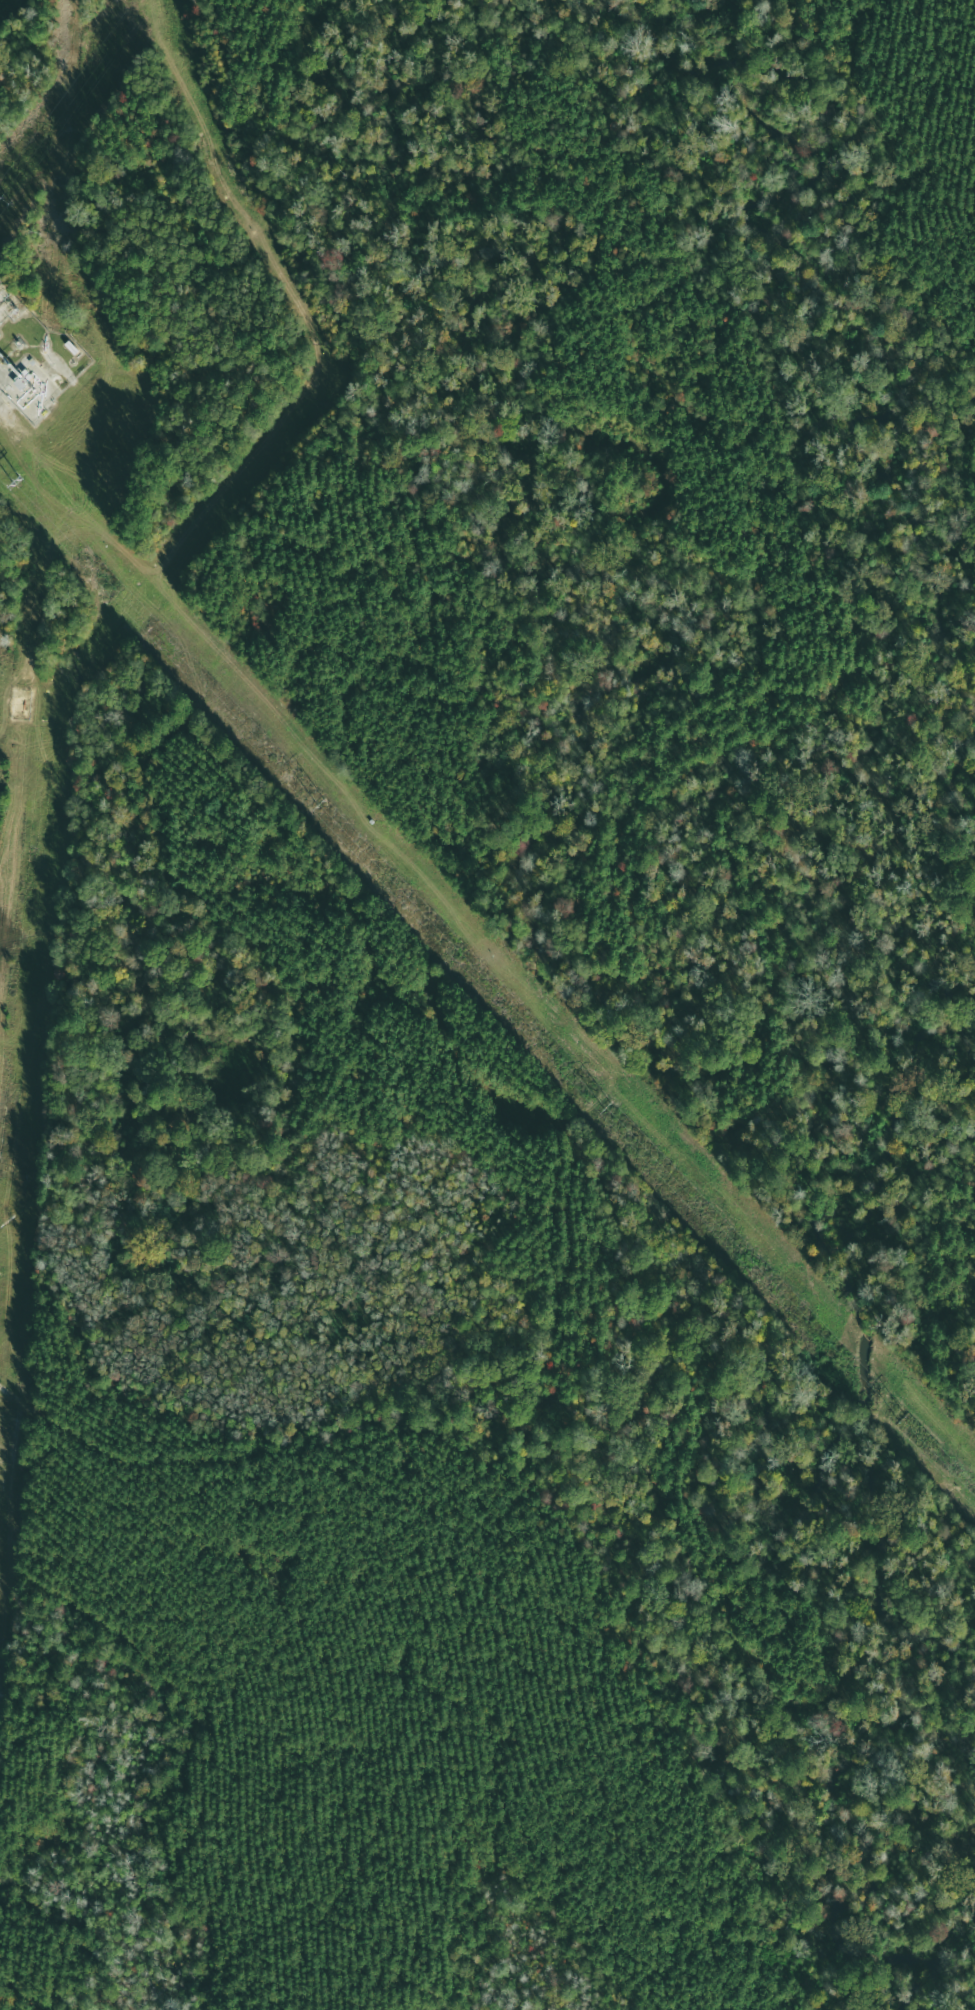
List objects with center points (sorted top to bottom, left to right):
power tower: (1, 197)
power substation: (5, 298)
power tower: (15, 481)
power tower: (320, 803)
power tower: (603, 1104)
road: (950, 1304)
power tower: (900, 1419)

